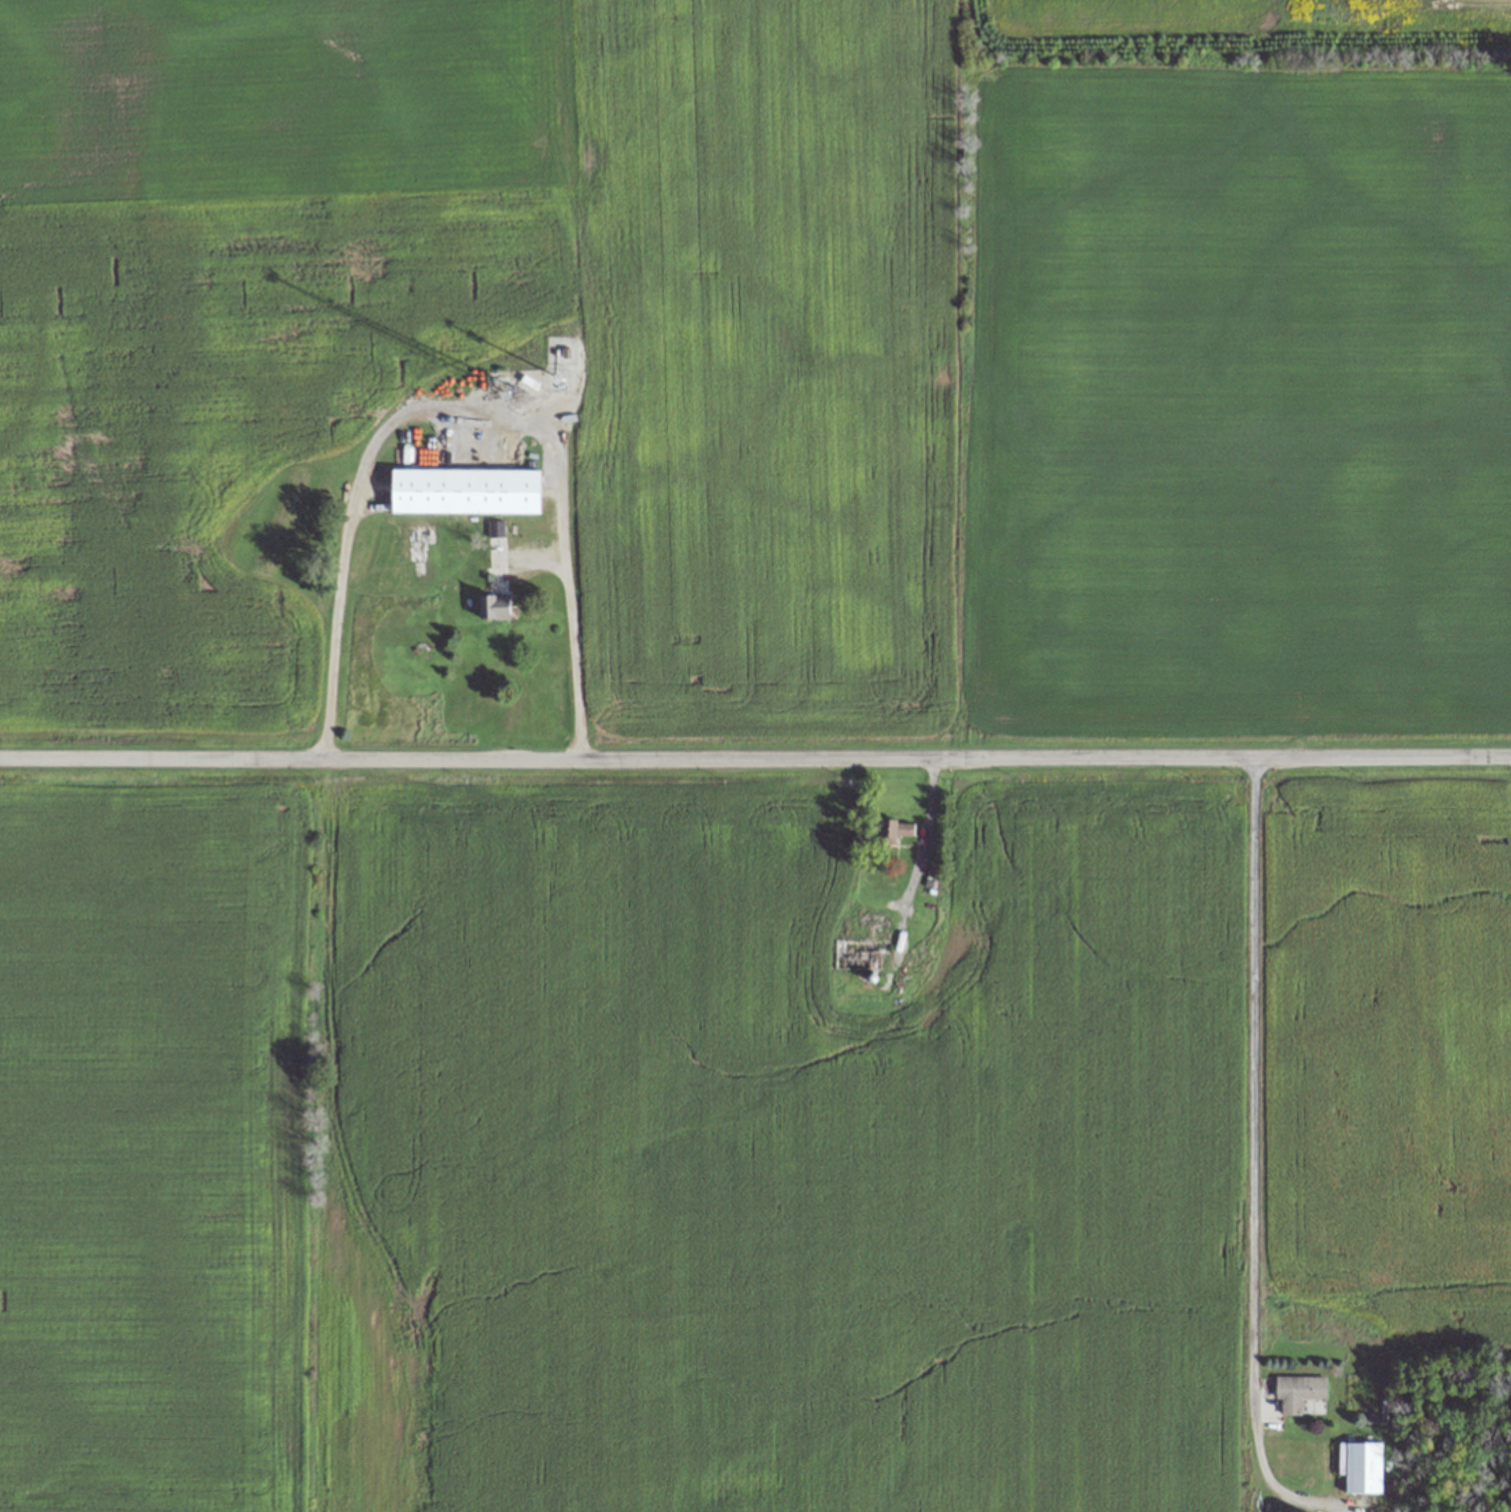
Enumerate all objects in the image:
road: (1478, 1)
building: (466, 490)
building: (495, 528)
road: (346, 539)
building: (499, 606)
road: (569, 632)
road: (755, 759)
building: (891, 831)
road: (918, 852)
road: (1252, 1087)
crop: (724, 1128)
building: (1298, 1392)
building: (1363, 1468)

